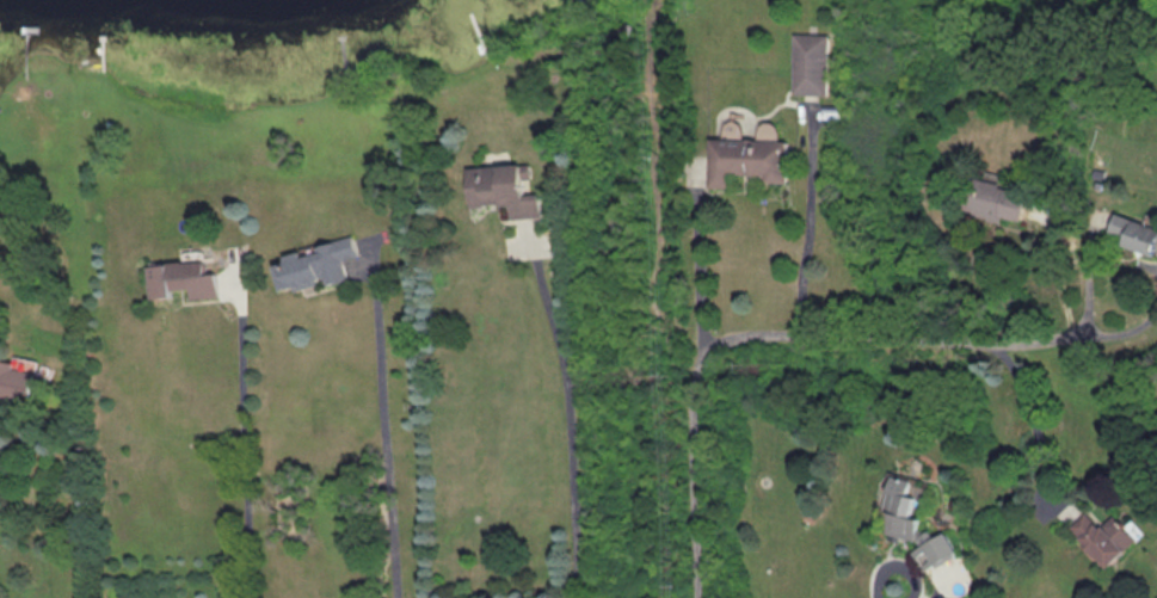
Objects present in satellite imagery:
building: (811, 66)
building: (744, 161)
building: (501, 191)
building: (995, 202)
road: (808, 224)
building: (1132, 235)
road: (701, 263)
building: (312, 266)
road: (1089, 331)
road: (733, 335)
road: (1034, 420)
road: (571, 421)
road: (387, 429)
road: (245, 438)
building: (1108, 538)
road: (891, 566)

